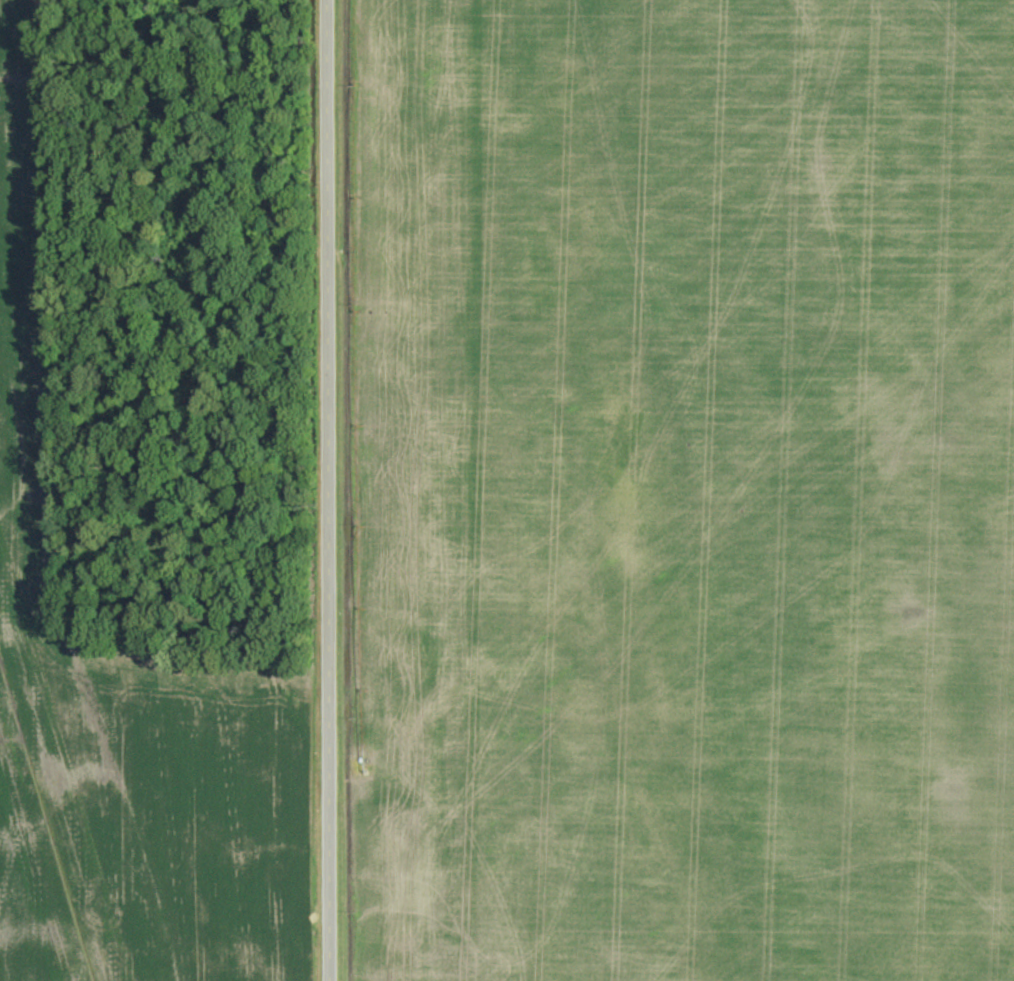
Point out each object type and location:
road: (332, 490)

